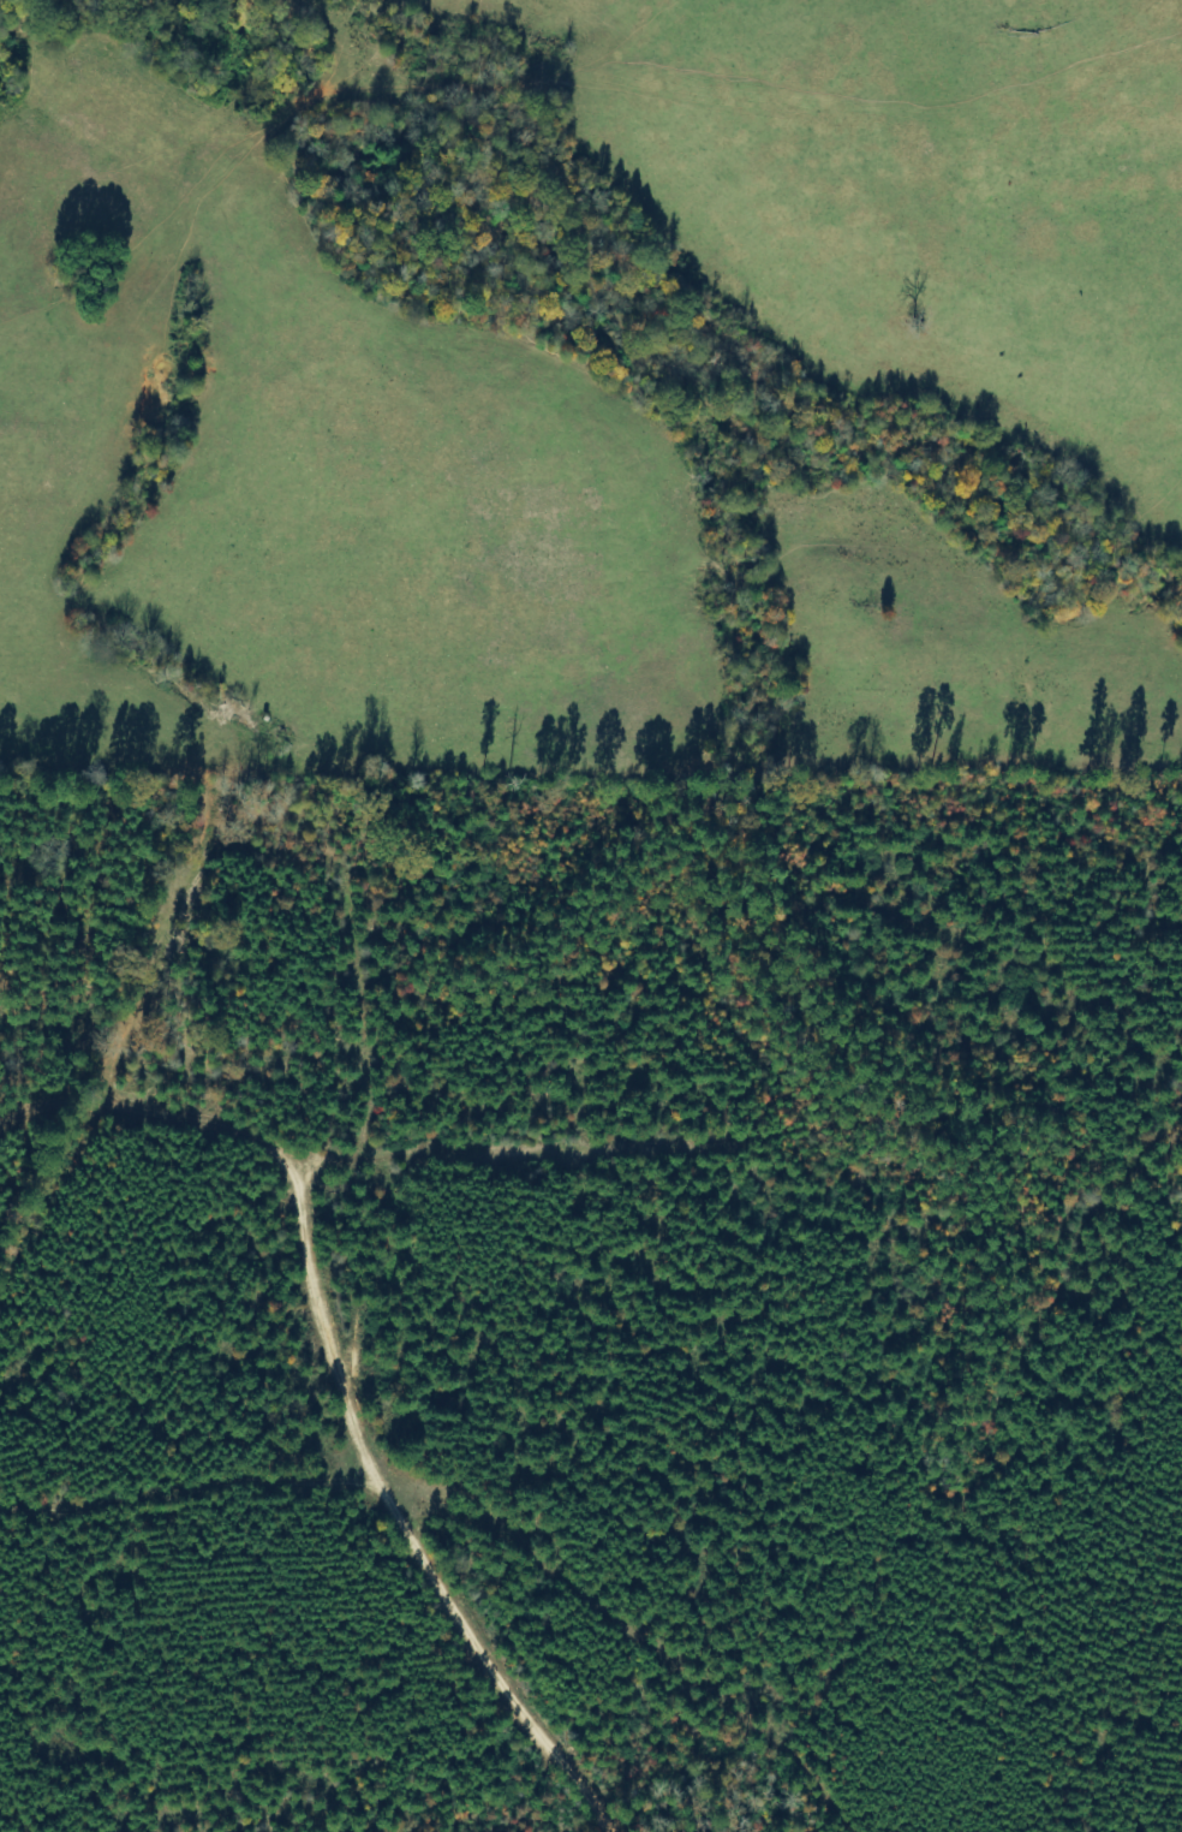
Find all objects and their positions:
road: (595, 1143)

